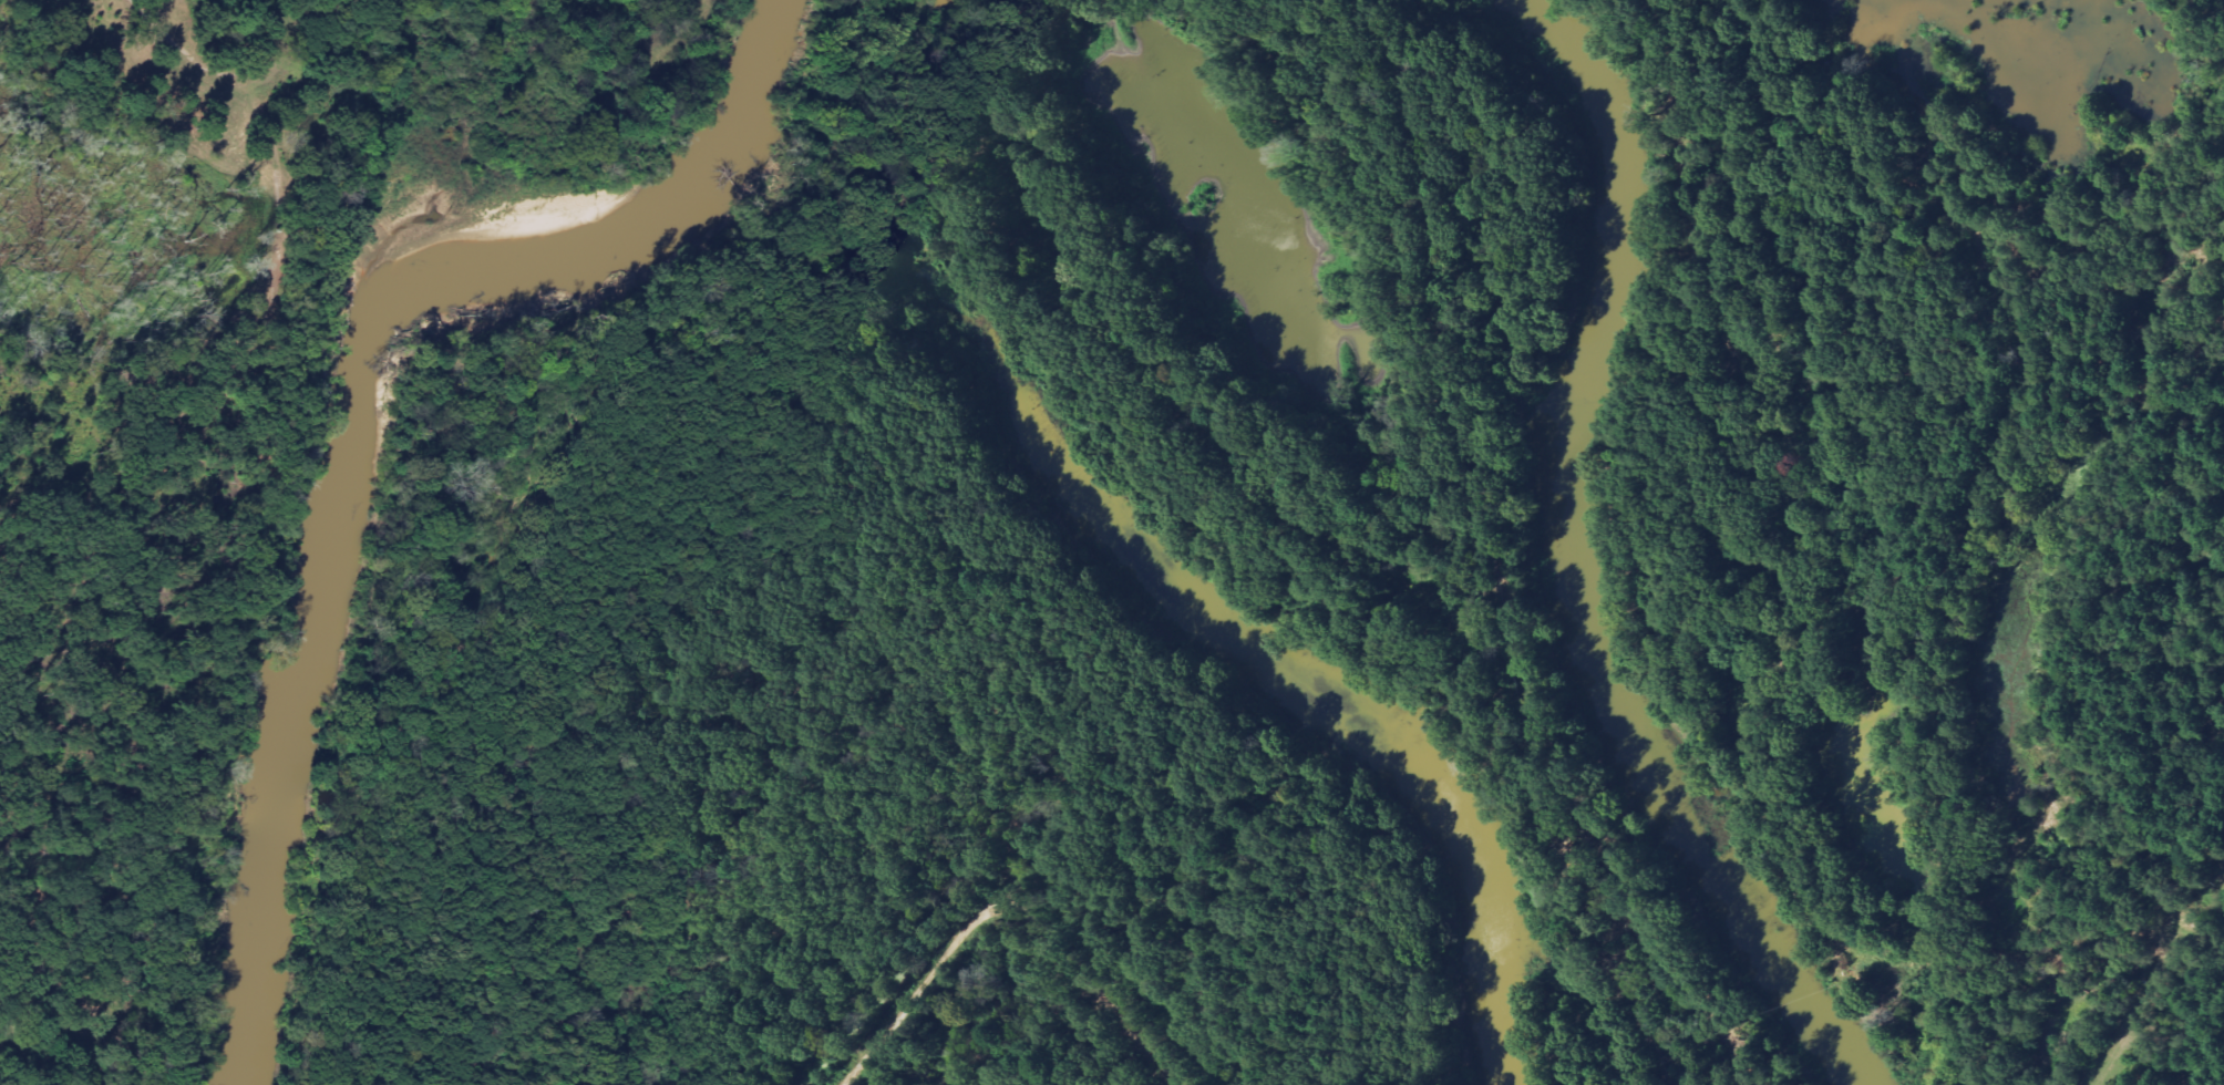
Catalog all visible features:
road: (295, 41)
road: (651, 41)
road: (1684, 186)
road: (2014, 342)
river: (372, 397)
road: (1480, 515)
road: (2191, 820)
road: (2045, 954)
road: (921, 985)
road: (1092, 992)

